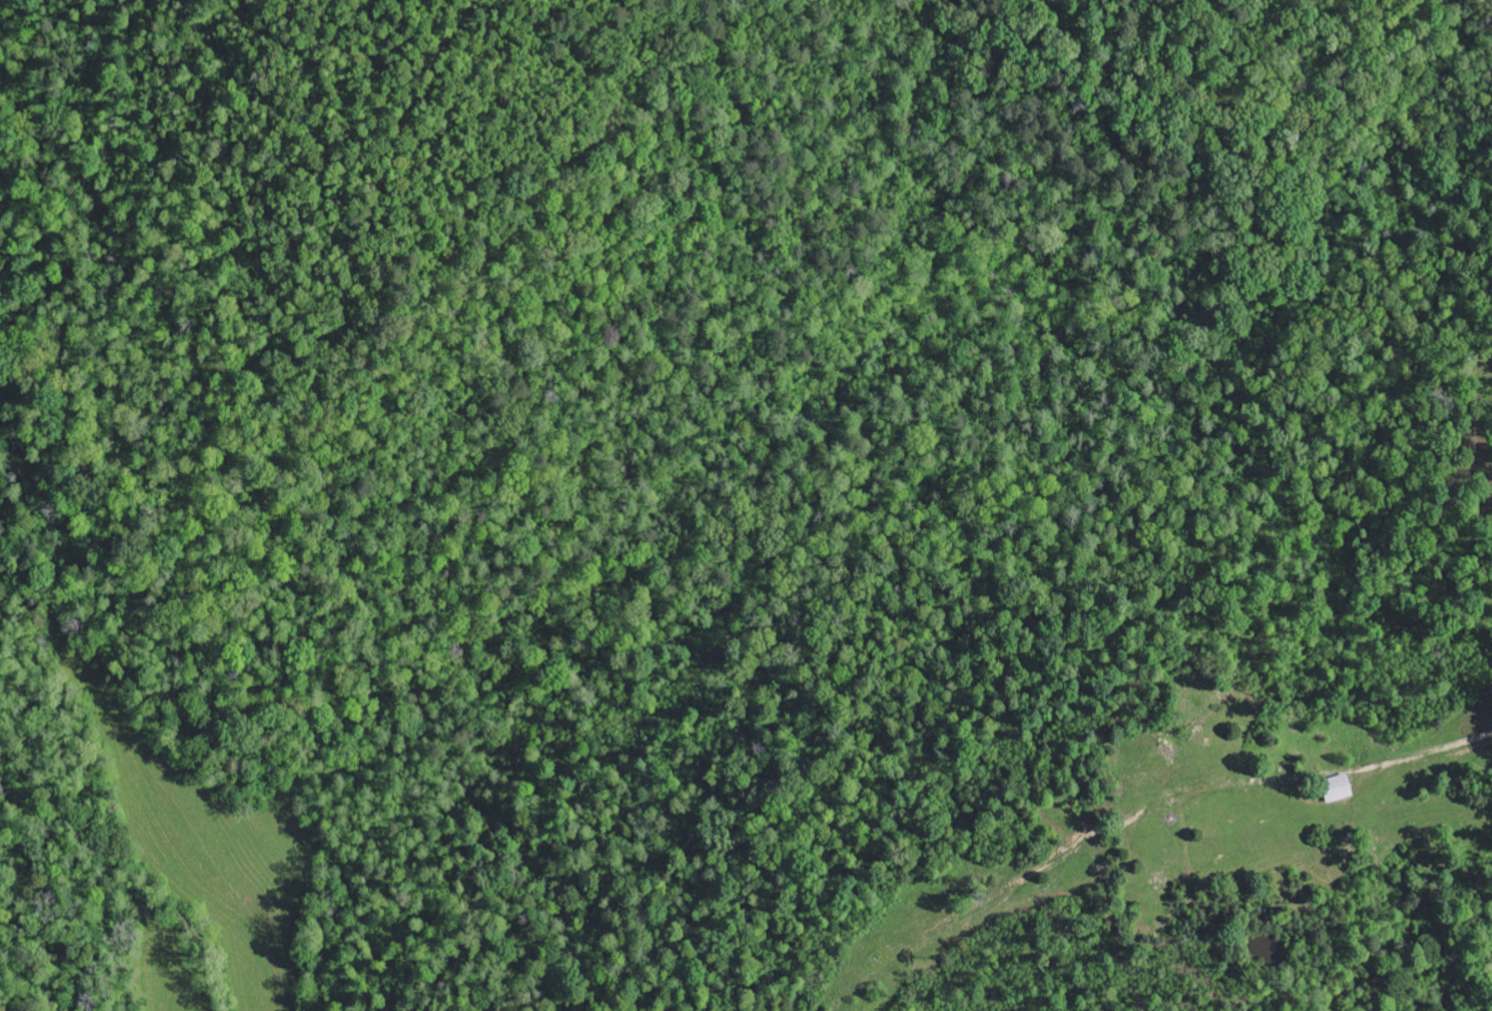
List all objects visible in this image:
building: (1339, 789)

